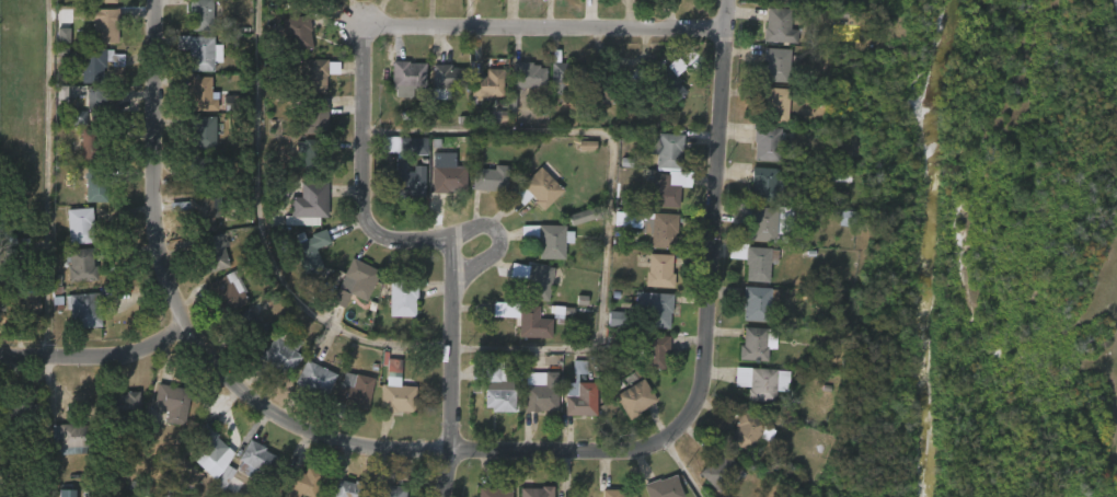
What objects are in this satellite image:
building: (785, 0)
building: (107, 1)
building: (312, 1)
building: (204, 15)
building: (105, 25)
building: (779, 26)
road: (549, 28)
building: (297, 32)
building: (62, 35)
building: (203, 51)
building: (775, 58)
building: (93, 61)
building: (314, 73)
building: (410, 73)
building: (528, 74)
building: (451, 77)
building: (564, 77)
building: (490, 83)
building: (607, 85)
building: (669, 88)
building: (61, 96)
building: (209, 96)
building: (781, 100)
building: (101, 103)
building: (79, 117)
building: (318, 117)
building: (204, 132)
building: (92, 142)
building: (767, 143)
building: (587, 146)
building: (412, 147)
building: (668, 149)
building: (316, 155)
building: (447, 172)
building: (199, 173)
building: (830, 177)
road: (48, 178)
building: (407, 180)
building: (490, 180)
building: (95, 183)
building: (765, 184)
building: (541, 188)
building: (663, 189)
building: (309, 200)
building: (204, 212)
building: (580, 217)
building: (757, 219)
building: (847, 219)
building: (79, 223)
building: (659, 228)
road: (495, 238)
building: (548, 239)
road: (441, 244)
building: (21, 250)
building: (311, 251)
building: (210, 255)
building: (758, 263)
building: (83, 266)
building: (656, 270)
building: (362, 277)
building: (543, 281)
building: (227, 292)
building: (26, 297)
building: (402, 299)
building: (3, 302)
building: (758, 302)
building: (656, 309)
building: (87, 310)
road: (185, 315)
building: (532, 323)
building: (254, 327)
road: (713, 333)
building: (757, 344)
road: (504, 349)
building: (655, 350)
building: (281, 352)
road: (97, 356)
building: (495, 371)
building: (315, 378)
building: (761, 382)
building: (353, 392)
building: (541, 393)
building: (578, 393)
building: (635, 397)
building: (396, 398)
building: (497, 400)
building: (171, 402)
building: (124, 411)
building: (22, 414)
building: (751, 432)
building: (71, 440)
building: (209, 443)
building: (254, 458)
road: (682, 467)
building: (725, 471)
building: (301, 483)
building: (663, 487)
building: (347, 488)
building: (389, 492)
building: (493, 492)
building: (537, 492)
building: (617, 493)
building: (64, 494)

